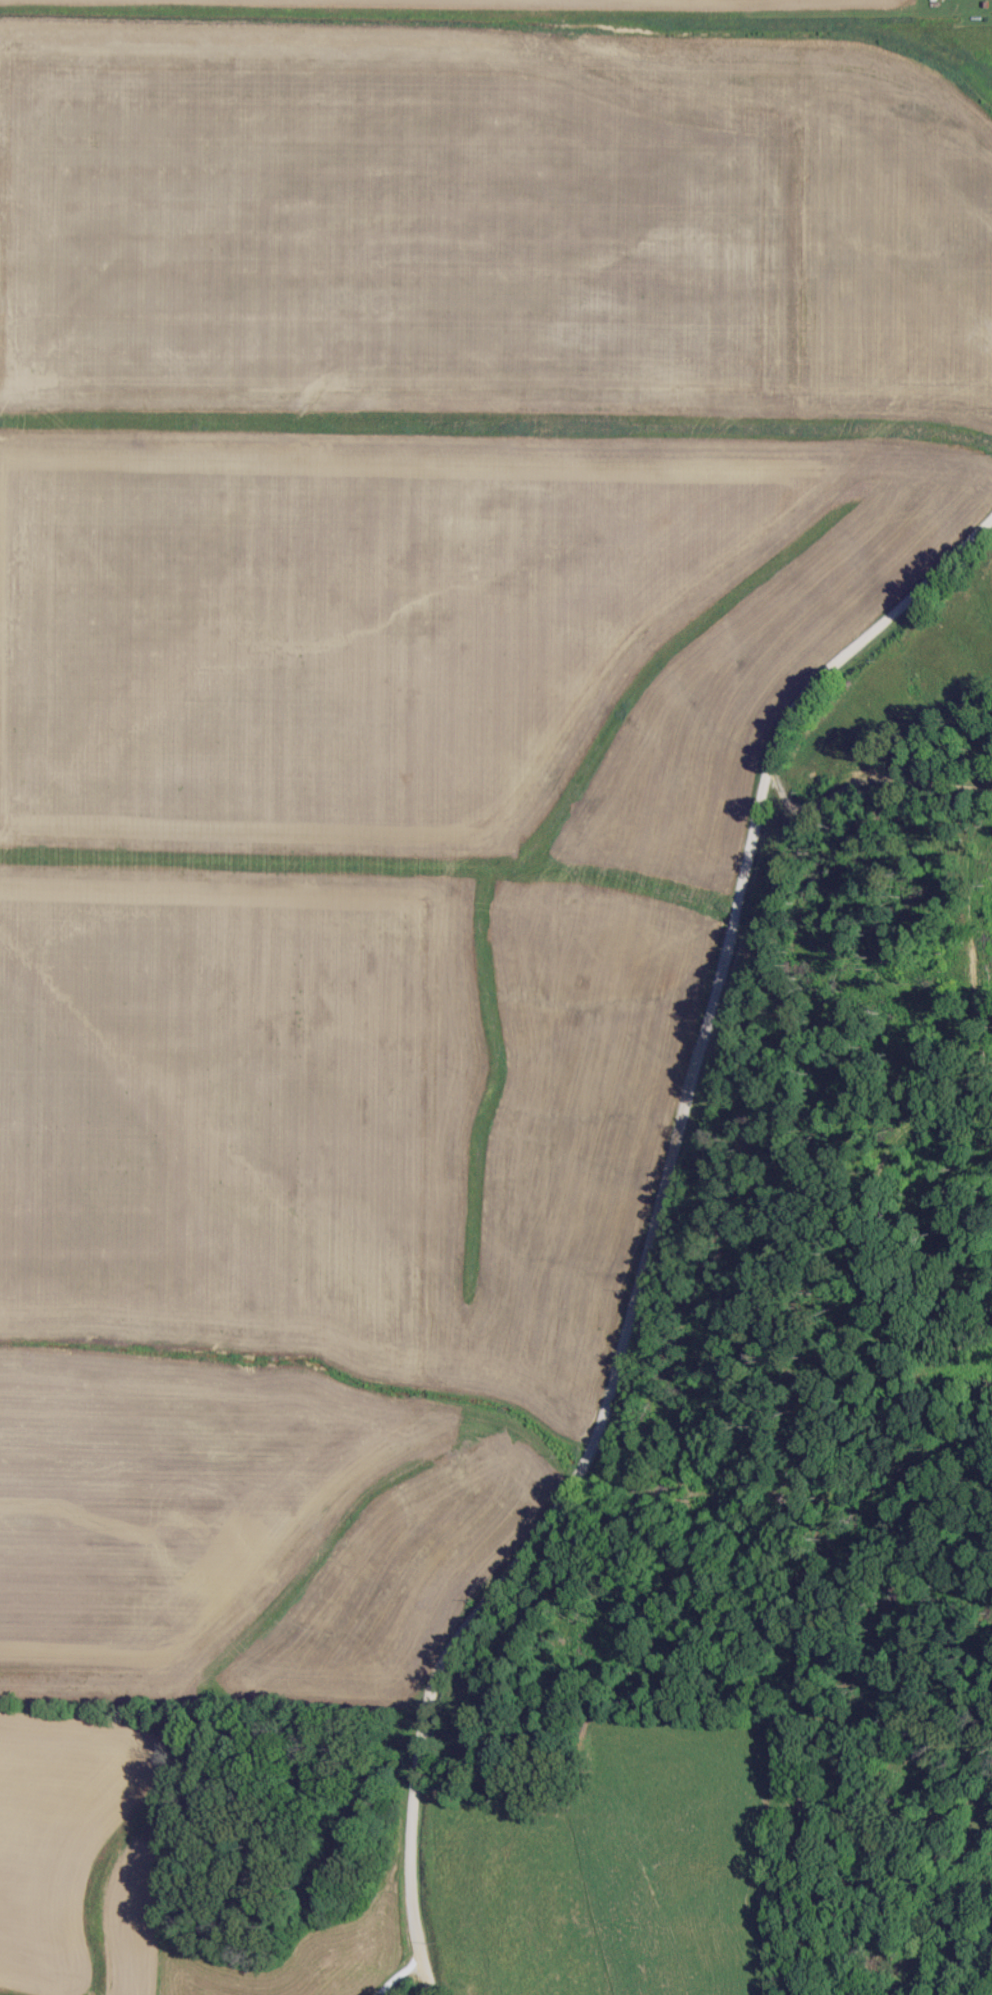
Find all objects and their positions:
road: (649, 1233)
road: (399, 1977)

